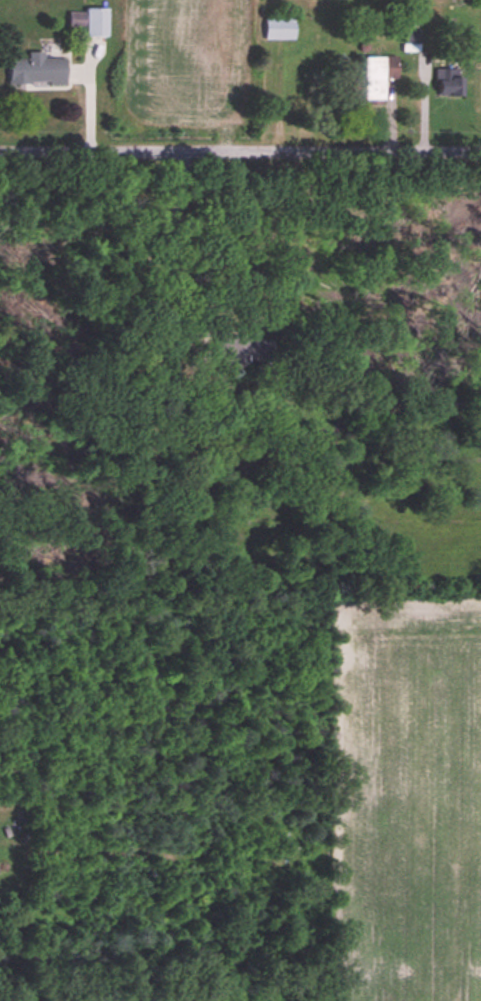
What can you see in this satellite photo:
building: (89, 21)
building: (280, 28)
building: (410, 44)
building: (37, 71)
building: (379, 76)
building: (450, 82)
road: (240, 153)
road: (170, 301)
building: (234, 350)

